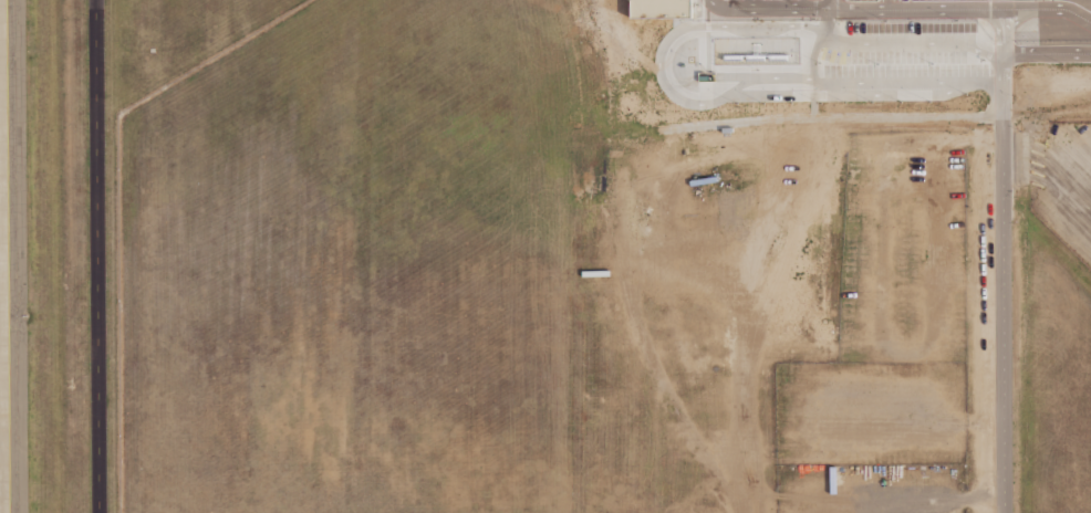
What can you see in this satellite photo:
road: (770, 8)
building: (657, 9)
road: (962, 9)
building: (919, 29)
road: (818, 44)
road: (1046, 54)
road: (658, 66)
airport: (482, 140)
road: (1020, 158)
building: (706, 233)
road: (96, 256)
road: (1001, 260)

